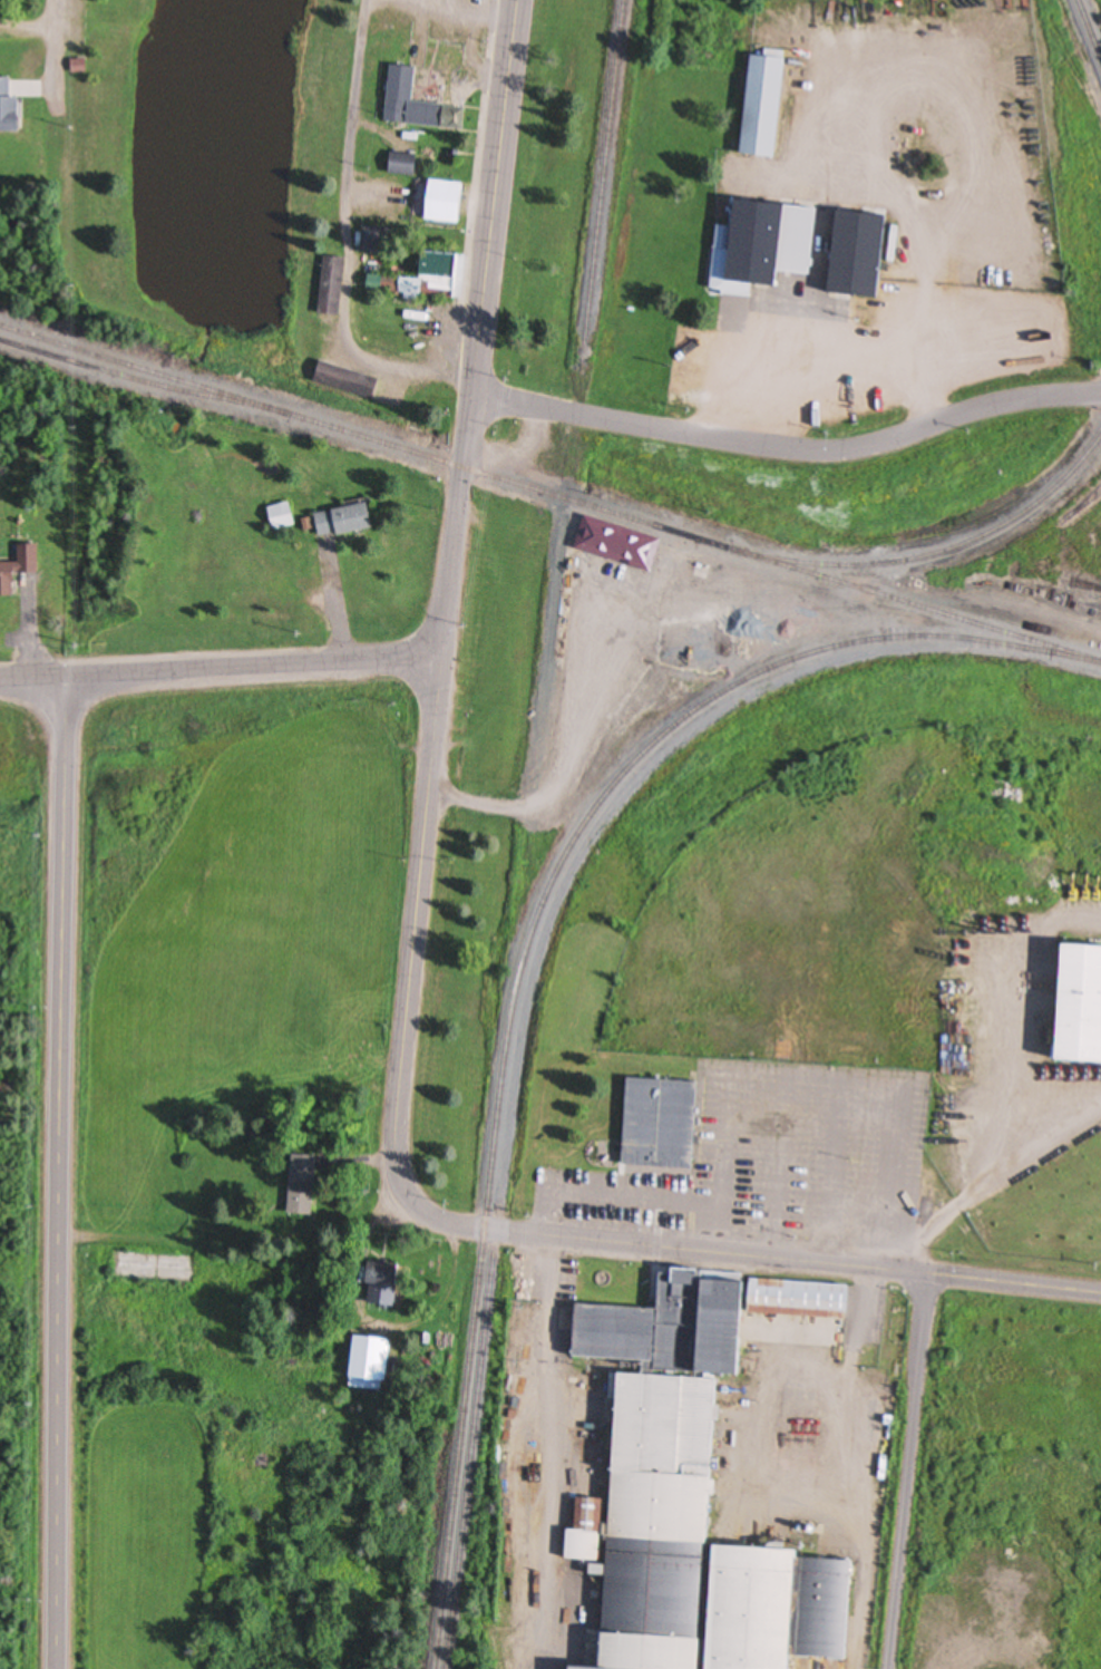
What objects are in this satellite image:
parking lot: (71, 27)
railway: (1089, 28)
road: (53, 59)
building: (75, 68)
building: (413, 106)
building: (759, 108)
building: (6, 109)
building: (436, 157)
park: (206, 165)
building: (399, 165)
railway: (603, 174)
building: (439, 202)
road: (348, 242)
building: (759, 248)
building: (422, 279)
building: (328, 288)
road: (479, 328)
building: (331, 378)
railway: (142, 382)
building: (857, 417)
road: (624, 424)
road: (938, 426)
railway: (549, 494)
building: (277, 517)
building: (340, 522)
building: (613, 542)
railway: (934, 553)
building: (17, 566)
road: (220, 667)
railway: (699, 707)
road: (569, 756)
road: (416, 908)
building: (1074, 1003)
building: (657, 1124)
road: (61, 1172)
building: (300, 1185)
road: (730, 1253)
building: (377, 1284)
building: (364, 1364)
railway: (469, 1366)
railway: (472, 1443)
road: (915, 1472)
building: (668, 1523)
building: (761, 1613)
building: (566, 1668)

